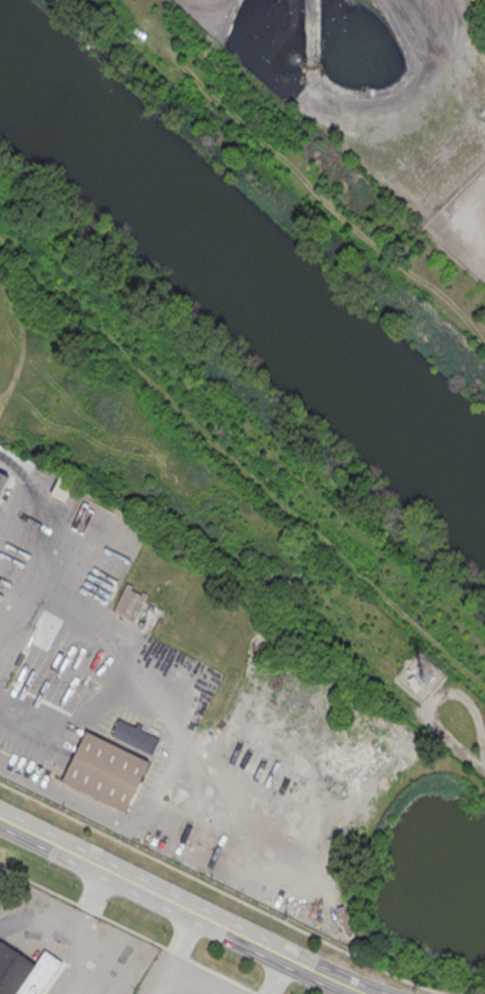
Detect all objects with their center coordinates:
road: (476, 207)
power substation: (464, 224)
river: (242, 281)
park: (241, 413)
building: (2, 478)
road: (26, 705)
building: (104, 771)
road: (225, 892)
road: (183, 907)
road: (131, 930)
road: (179, 959)
building: (25, 971)
road: (278, 976)
road: (170, 988)

